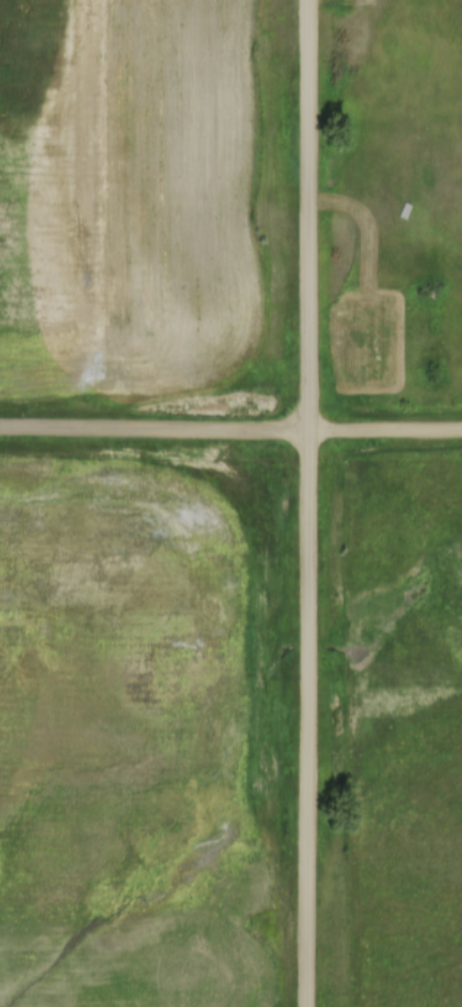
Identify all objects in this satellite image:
park: (362, 337)
road: (386, 421)
road: (155, 428)
road: (310, 503)

